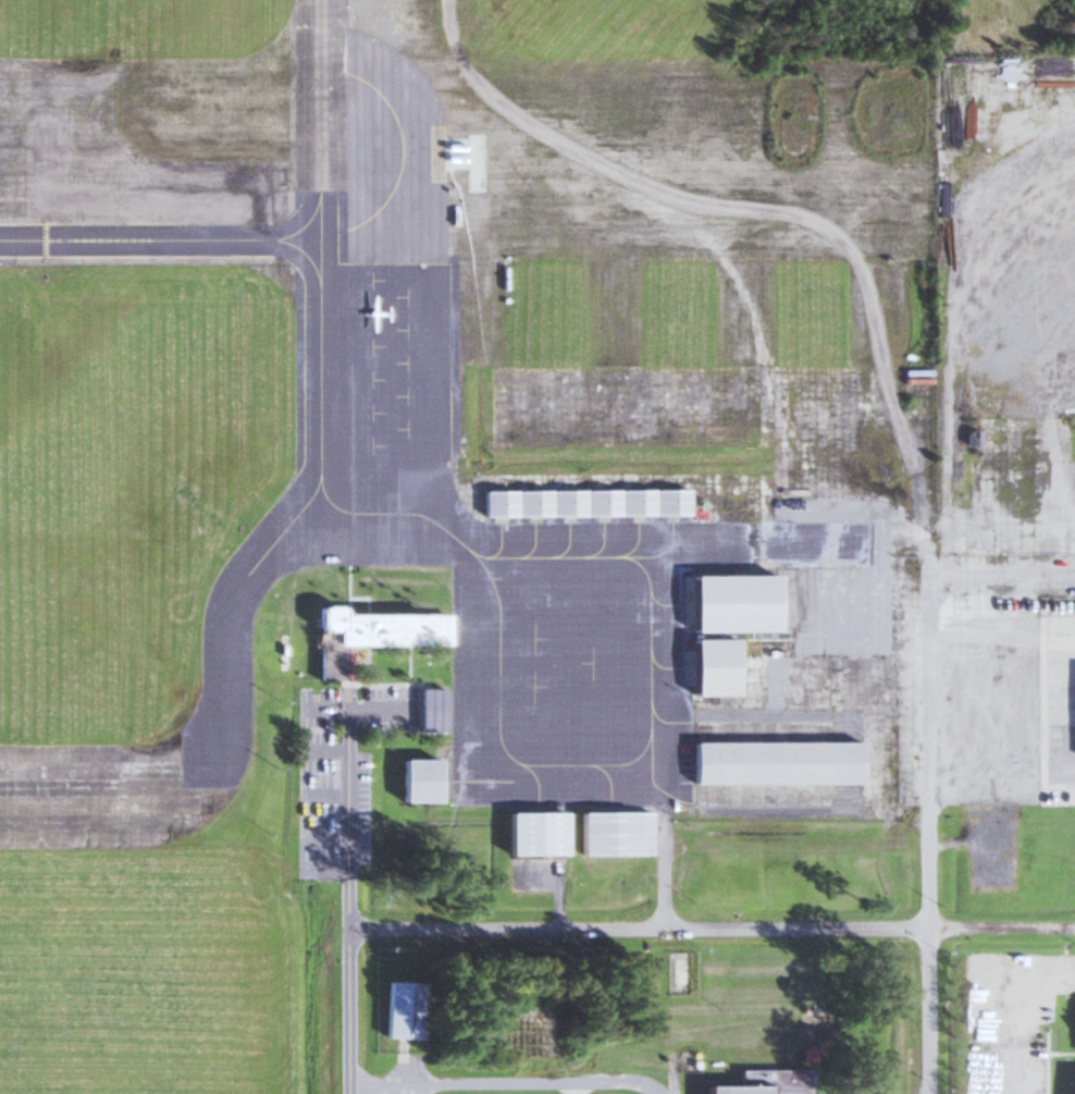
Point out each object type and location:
airport taxiway: (321, 120)
airport taxiway: (160, 239)
building: (972, 439)
airport: (445, 490)
airport hangar: (634, 502)
building: (634, 502)
airport hangar: (668, 502)
building: (668, 502)
airport hangar: (498, 503)
building: (498, 503)
airport hangar: (532, 503)
building: (532, 503)
airport hangar: (566, 503)
building: (566, 503)
airport hangar: (601, 503)
building: (601, 503)
airport taxiway: (502, 541)
airport taxiway: (604, 543)
airport taxiway: (639, 543)
airport taxiway: (674, 543)
airport taxiway: (535, 544)
airport taxiway: (569, 544)
airport taxiway: (717, 555)
airport apron: (492, 564)
road: (1000, 575)
airport taxiway: (235, 599)
airport hangar: (732, 604)
building: (732, 604)
airport terminal: (368, 636)
building: (368, 636)
airport hangar: (712, 666)
building: (712, 666)
airport taxiway: (651, 667)
road: (358, 709)
building: (437, 709)
road: (1054, 713)
road: (926, 751)
road: (330, 752)
airport hangar: (775, 763)
building: (775, 763)
parking lot: (343, 771)
airport hangar: (422, 782)
building: (422, 782)
road: (329, 810)
airport hangar: (532, 835)
building: (532, 835)
airport hangar: (613, 835)
building: (613, 835)
road: (329, 869)
road: (664, 871)
road: (558, 899)
road: (350, 900)
road: (638, 926)
road: (1000, 927)
building: (400, 1010)
road: (926, 1010)
road: (1006, 1070)
road: (507, 1082)
building: (764, 1082)
road: (864, 1083)
road: (574, 1087)
road: (397, 1089)

